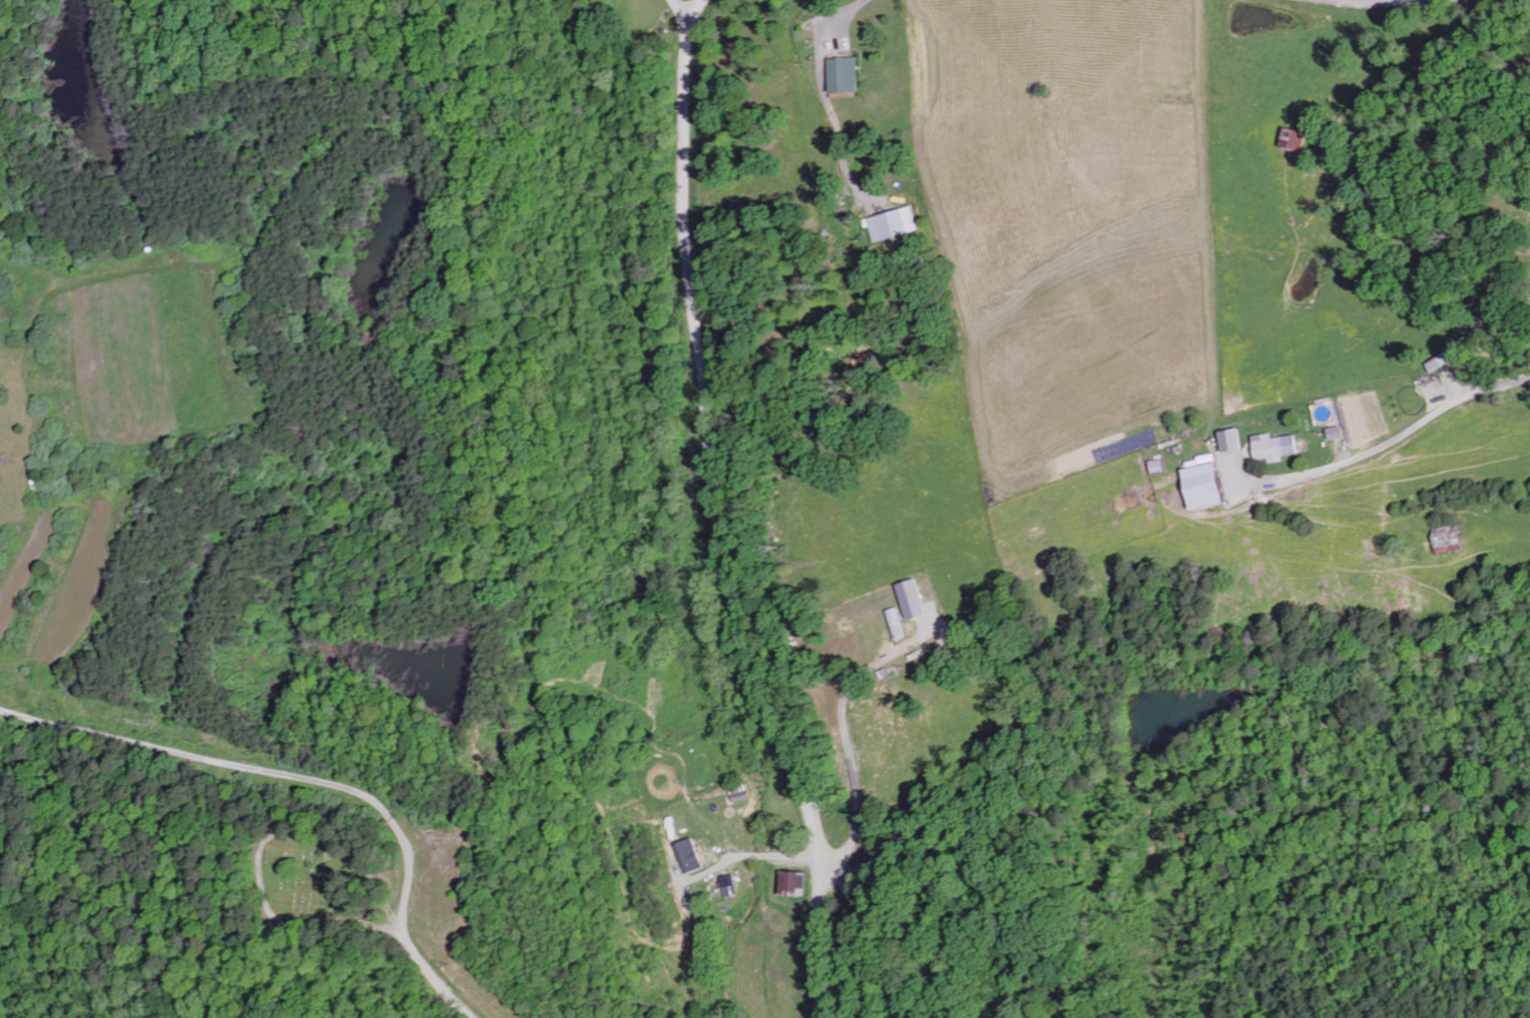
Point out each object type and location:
building: (844, 77)
building: (1295, 141)
building: (893, 226)
building: (1439, 364)
building: (1334, 434)
road: (1389, 444)
building: (1274, 448)
building: (1201, 484)
road: (719, 514)
building: (1448, 540)
building: (911, 600)
building: (898, 625)
road: (50, 725)
road: (853, 741)
road: (361, 796)
building: (688, 857)
road: (746, 858)
building: (792, 884)

